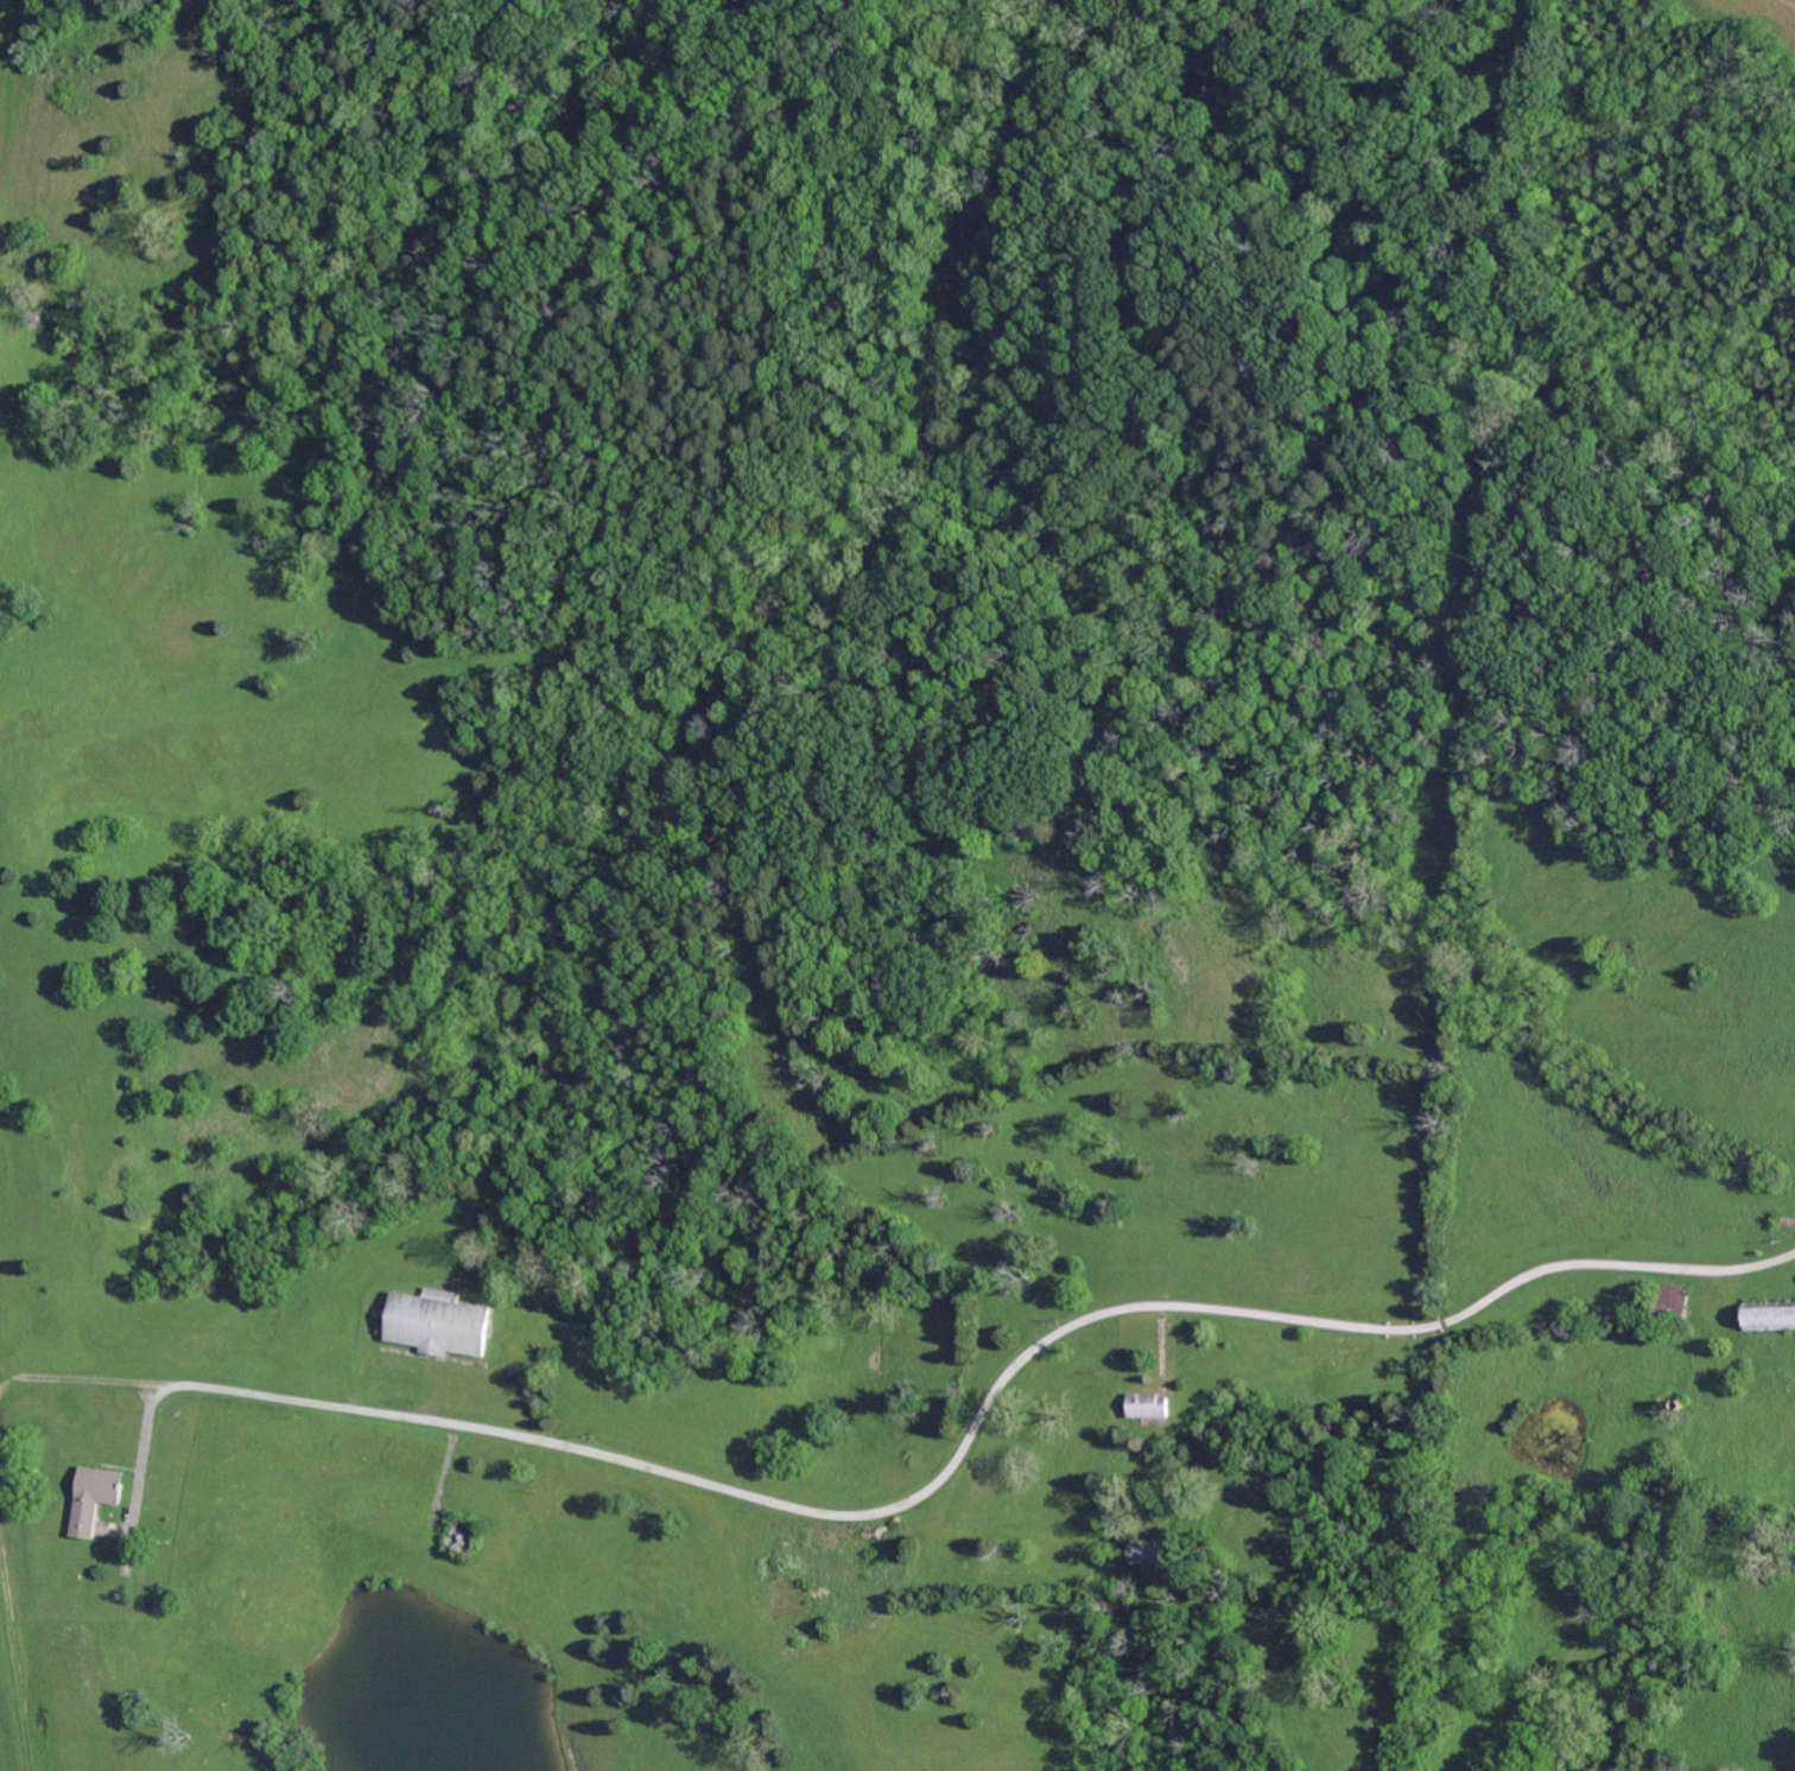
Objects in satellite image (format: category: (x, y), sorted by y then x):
building: (1669, 1305)
building: (1769, 1316)
building: (438, 1324)
building: (1726, 1348)
road: (984, 1404)
building: (1147, 1405)
building: (1677, 1405)
road: (141, 1435)
building: (1661, 1483)
building: (95, 1499)
building: (463, 1536)
building: (1149, 1553)

